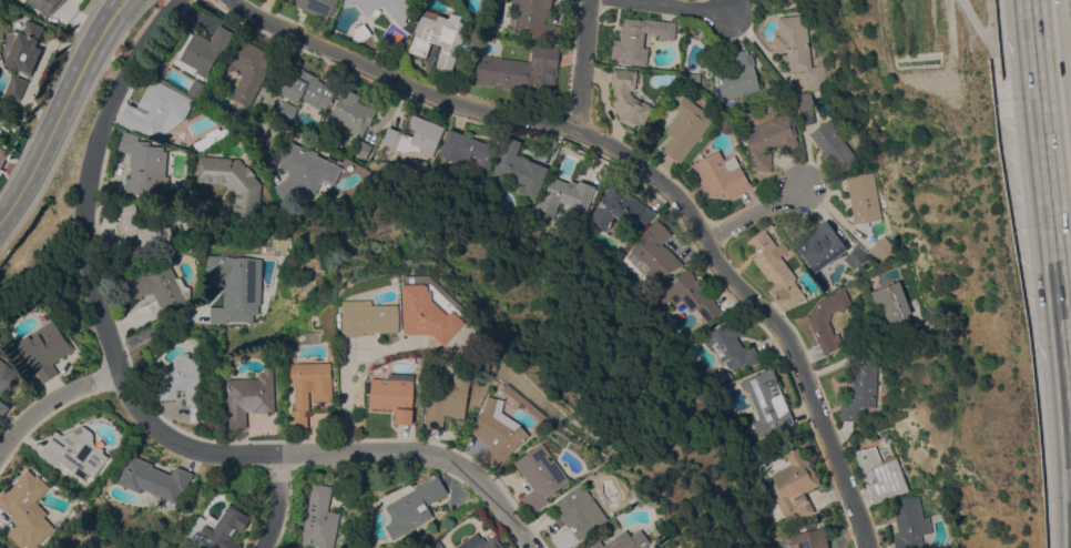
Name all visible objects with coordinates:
building: (787, 1)
building: (47, 3)
road: (676, 6)
building: (317, 7)
building: (400, 10)
building: (534, 20)
building: (440, 37)
building: (639, 39)
building: (24, 49)
building: (798, 50)
building: (204, 51)
road: (577, 63)
building: (247, 68)
building: (519, 69)
building: (739, 72)
road: (398, 81)
building: (16, 87)
building: (308, 89)
building: (628, 98)
building: (802, 102)
road: (604, 103)
building: (286, 110)
building: (156, 111)
road: (63, 112)
building: (349, 113)
building: (726, 126)
building: (686, 128)
building: (213, 136)
building: (297, 136)
building: (415, 136)
building: (769, 140)
building: (833, 145)
building: (361, 149)
building: (466, 149)
road: (1053, 160)
building: (144, 165)
building: (518, 170)
building: (304, 171)
building: (721, 175)
building: (233, 183)
building: (864, 196)
building: (565, 199)
building: (620, 209)
road: (755, 211)
building: (141, 229)
building: (819, 245)
building: (113, 247)
building: (880, 248)
building: (653, 253)
building: (855, 256)
building: (776, 271)
building: (238, 286)
building: (156, 290)
building: (685, 295)
building: (891, 300)
road: (767, 301)
building: (427, 314)
building: (368, 317)
building: (827, 319)
road: (1070, 326)
road: (159, 327)
building: (730, 345)
building: (44, 348)
building: (722, 374)
building: (6, 375)
building: (184, 384)
building: (368, 384)
building: (309, 388)
building: (860, 389)
building: (394, 395)
building: (251, 396)
road: (345, 396)
building: (446, 399)
road: (50, 403)
building: (767, 403)
road: (140, 406)
building: (2, 408)
building: (498, 432)
building: (74, 450)
building: (880, 474)
building: (64, 475)
building: (540, 477)
building: (154, 479)
building: (793, 487)
road: (278, 501)
building: (414, 507)
building: (27, 511)
building: (578, 515)
building: (319, 518)
building: (909, 522)
building: (221, 526)
building: (808, 538)
building: (625, 540)
building: (480, 542)
building: (437, 545)

